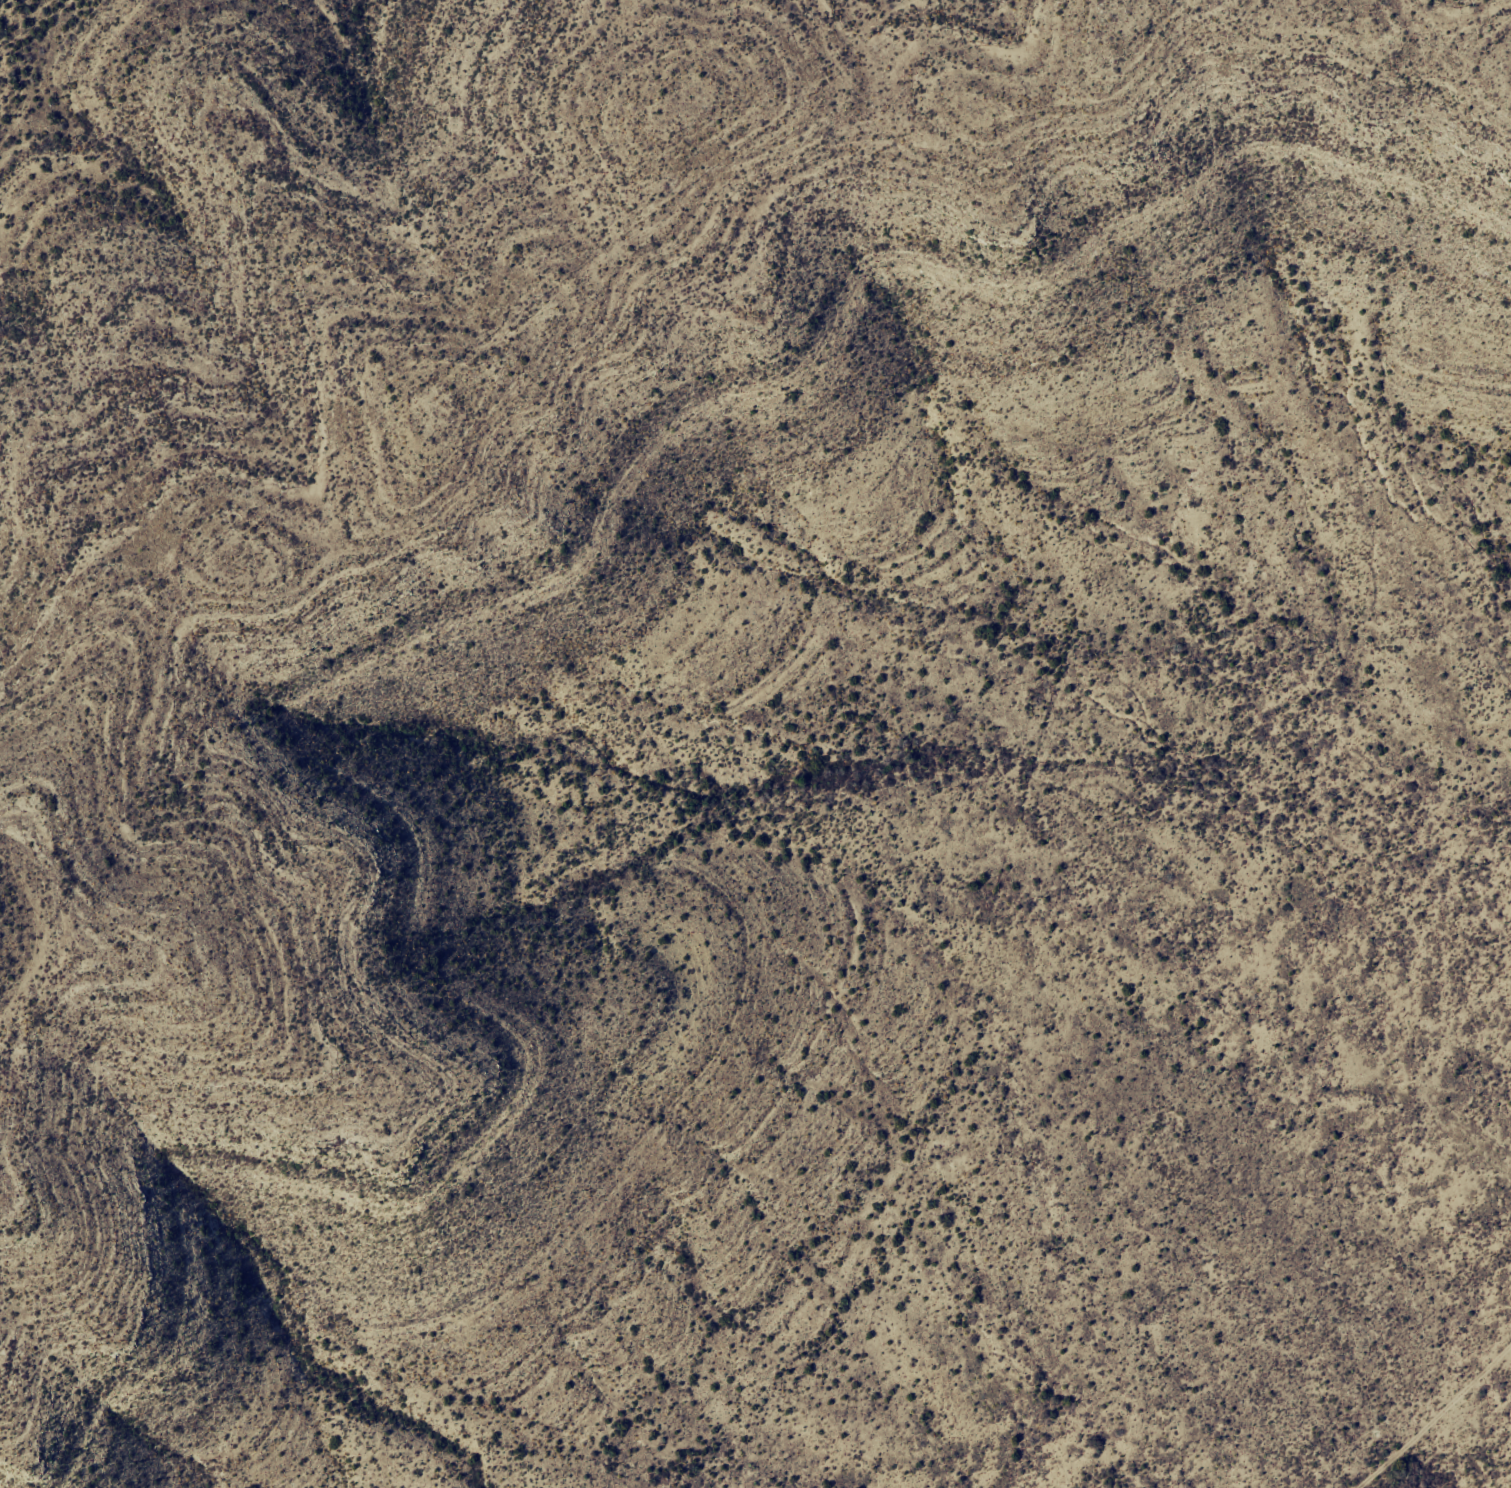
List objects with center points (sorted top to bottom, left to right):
road: (1442, 1424)

